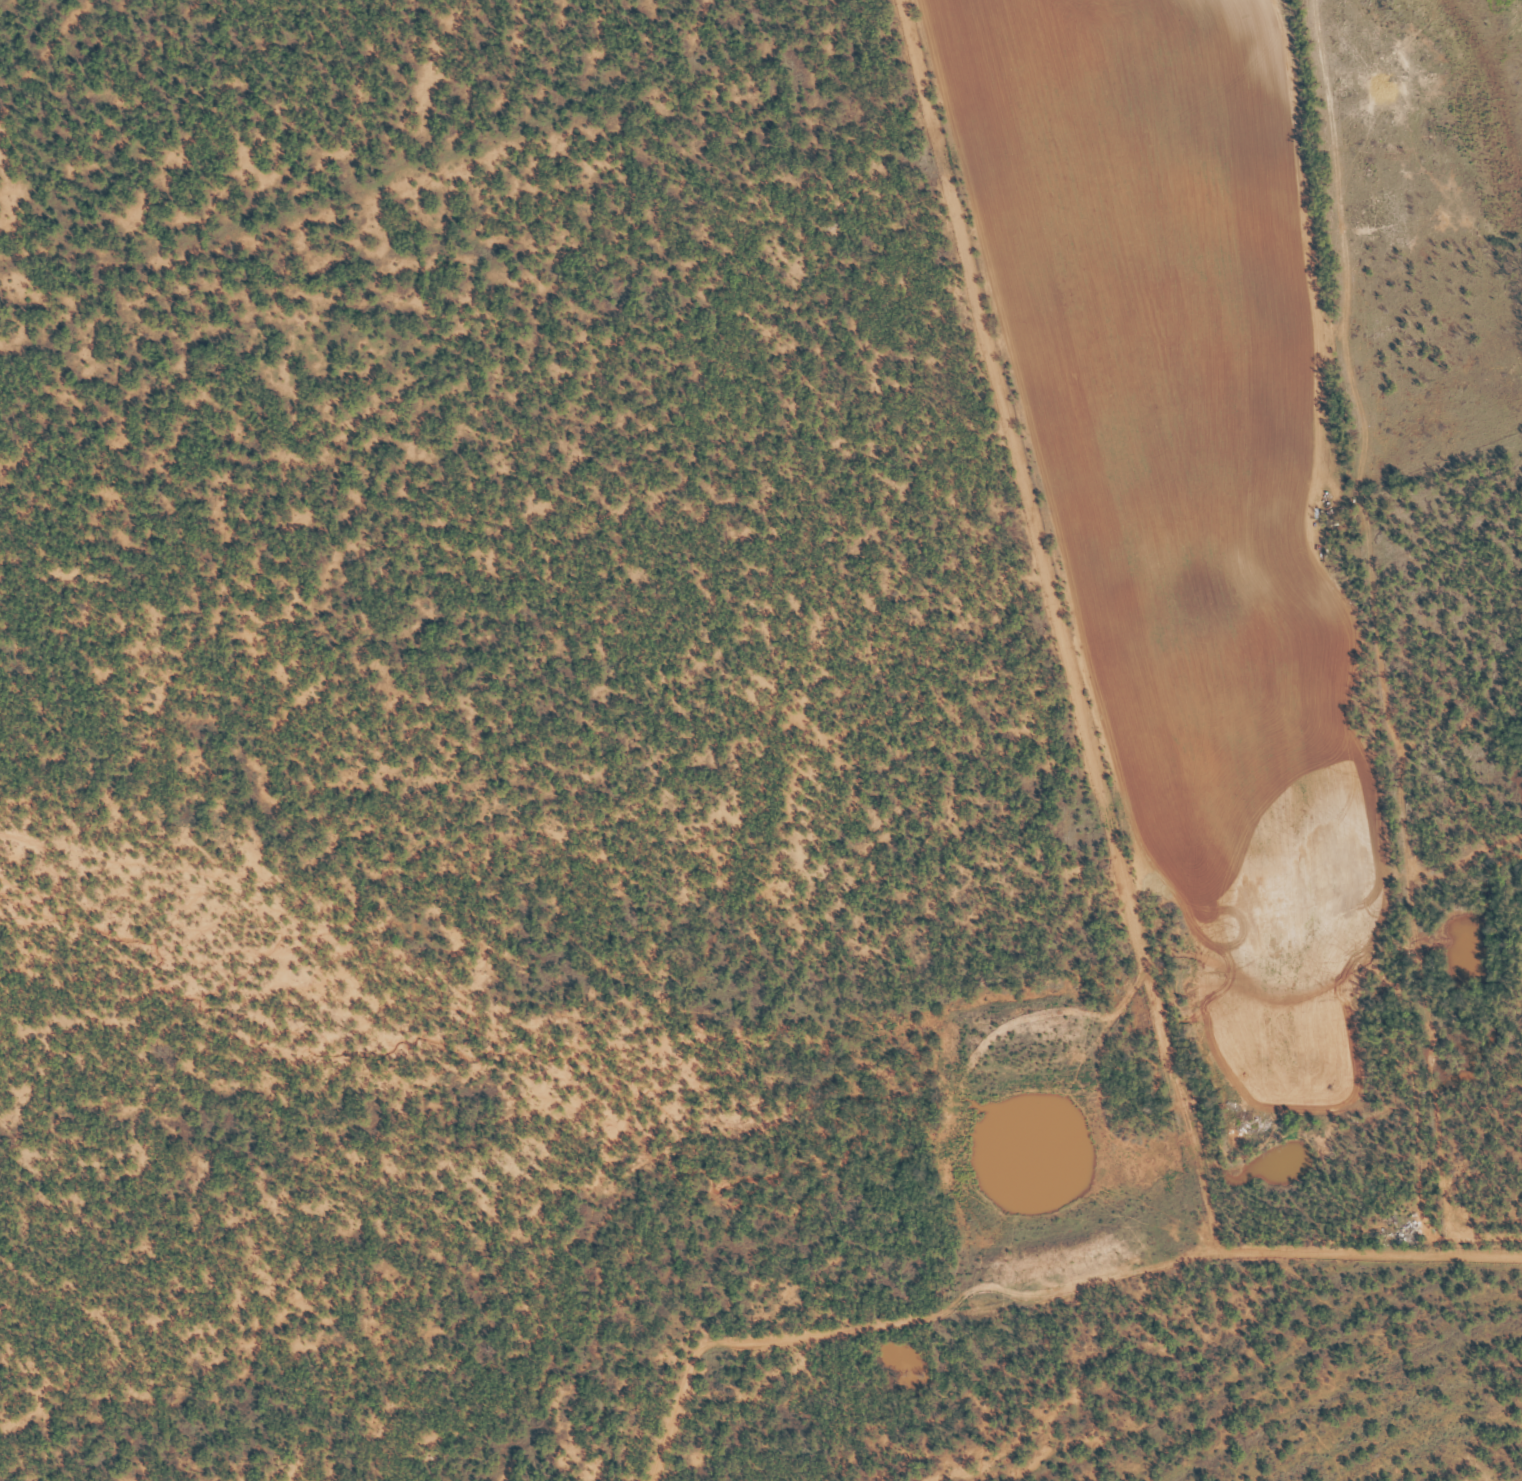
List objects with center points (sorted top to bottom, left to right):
road: (1407, 996)
road: (420, 1455)

